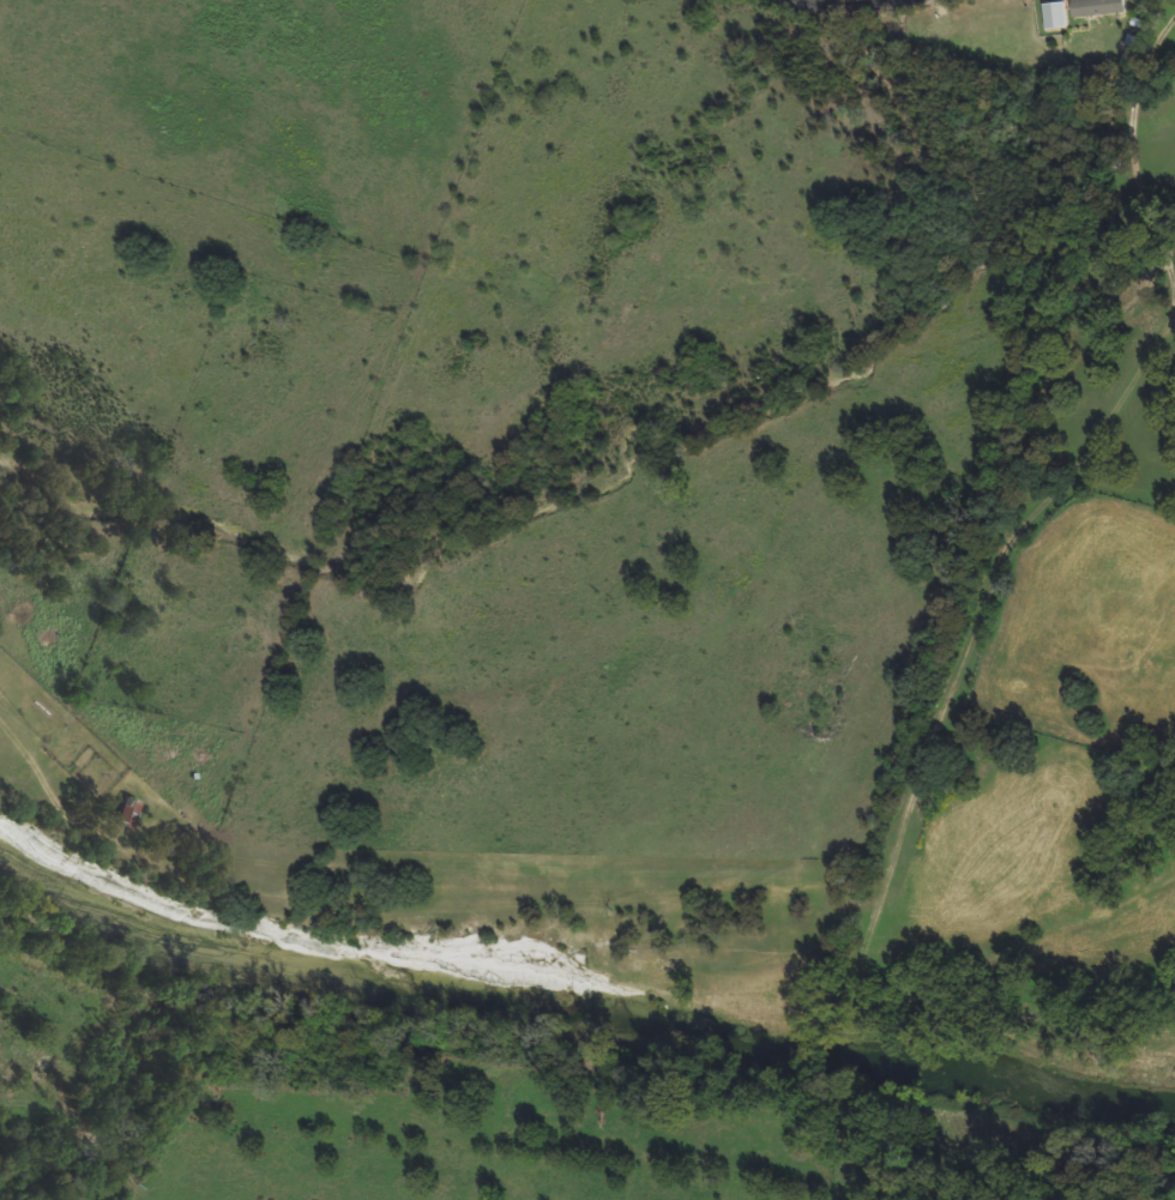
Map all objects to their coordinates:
building: (1092, 7)
road: (851, 11)
building: (1050, 14)
road: (1141, 59)
road: (35, 770)
building: (122, 812)

